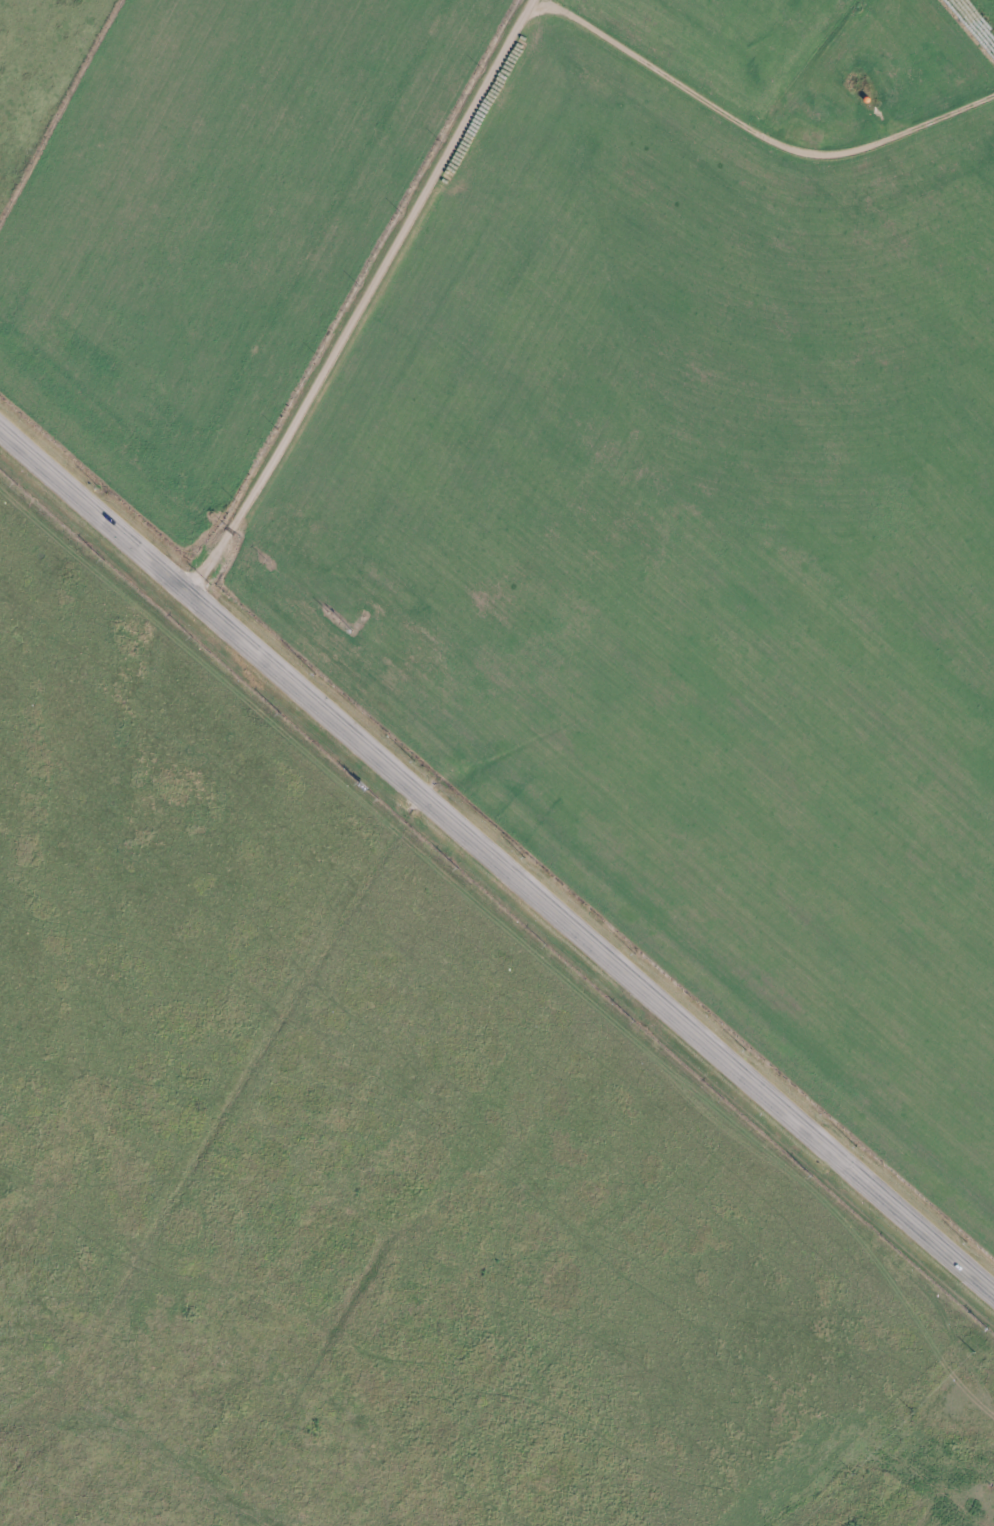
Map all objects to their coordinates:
road: (368, 300)
railway: (496, 775)
road: (495, 861)

